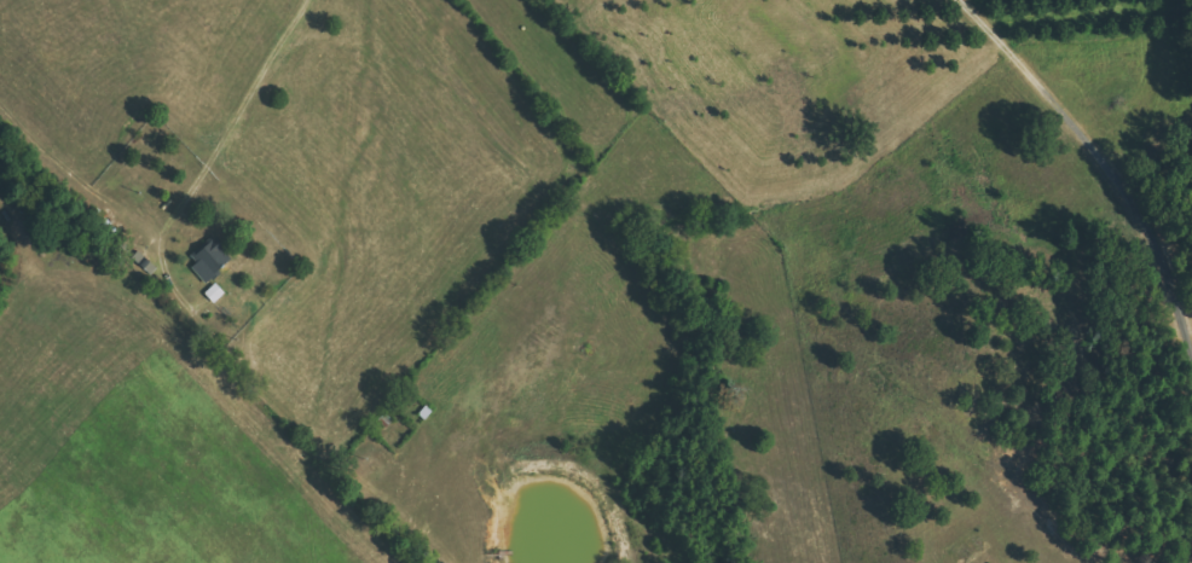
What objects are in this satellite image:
road: (222, 4)
road: (1107, 167)
building: (210, 259)
road: (696, 281)

